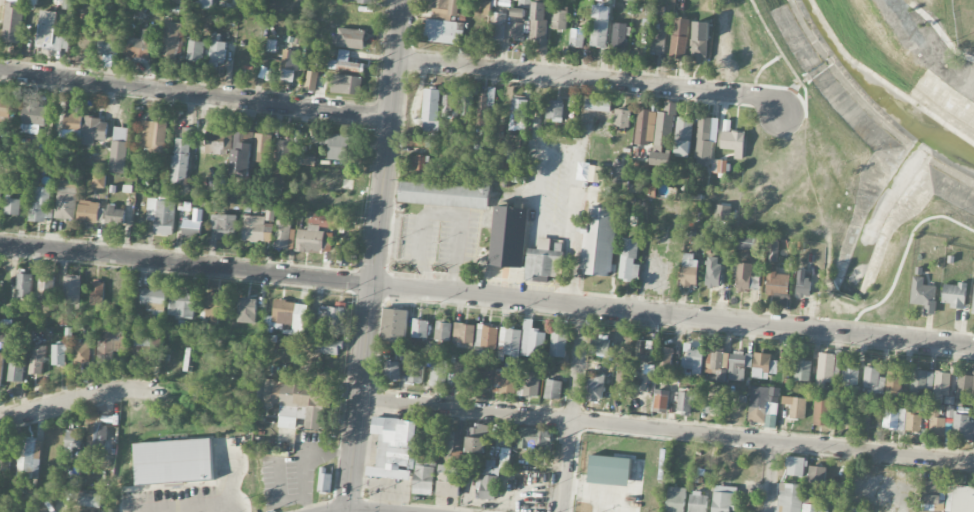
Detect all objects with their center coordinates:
building: (175, 1)
building: (365, 1)
building: (520, 3)
building: (68, 4)
building: (204, 4)
building: (445, 9)
building: (559, 19)
building: (13, 22)
building: (517, 23)
building: (539, 24)
building: (599, 27)
building: (81, 31)
building: (444, 31)
road: (941, 32)
building: (50, 33)
building: (619, 35)
building: (576, 37)
building: (350, 38)
building: (679, 38)
building: (172, 39)
building: (700, 42)
building: (657, 44)
building: (107, 45)
building: (271, 45)
building: (139, 46)
building: (196, 50)
building: (218, 50)
road: (780, 51)
building: (312, 60)
building: (345, 62)
building: (290, 67)
road: (593, 78)
building: (311, 80)
building: (346, 84)
road: (195, 94)
building: (598, 105)
building: (450, 106)
building: (466, 107)
building: (486, 107)
building: (6, 108)
building: (431, 109)
building: (555, 110)
building: (518, 114)
building: (33, 116)
building: (621, 118)
building: (72, 125)
building: (645, 127)
building: (663, 129)
building: (94, 130)
building: (153, 135)
park: (858, 136)
building: (683, 137)
building: (216, 140)
building: (705, 141)
building: (733, 142)
building: (260, 146)
building: (337, 146)
building: (119, 149)
road: (548, 150)
building: (283, 153)
building: (182, 155)
building: (240, 157)
building: (304, 159)
building: (1, 162)
building: (419, 163)
building: (719, 166)
building: (509, 168)
building: (594, 173)
building: (615, 174)
building: (98, 180)
building: (338, 181)
building: (634, 189)
building: (652, 189)
building: (445, 194)
building: (0, 196)
building: (231, 197)
building: (66, 200)
building: (40, 204)
building: (13, 206)
building: (90, 211)
building: (722, 212)
road: (441, 213)
building: (115, 215)
building: (162, 215)
road: (823, 219)
building: (193, 224)
building: (224, 226)
building: (256, 229)
building: (317, 233)
building: (283, 234)
building: (508, 236)
building: (599, 242)
building: (747, 244)
building: (344, 251)
road: (376, 256)
building: (543, 260)
building: (629, 260)
road: (905, 260)
road: (568, 267)
building: (688, 269)
building: (713, 271)
building: (746, 277)
building: (776, 282)
building: (803, 283)
building: (24, 285)
building: (71, 288)
building: (46, 289)
building: (96, 293)
building: (923, 295)
building: (954, 295)
road: (486, 296)
building: (153, 298)
building: (182, 304)
building: (215, 305)
building: (973, 308)
building: (247, 310)
building: (289, 316)
building: (62, 317)
building: (326, 319)
building: (394, 324)
building: (420, 328)
building: (443, 331)
building: (464, 332)
building: (486, 336)
building: (533, 340)
building: (111, 345)
building: (322, 345)
building: (510, 345)
building: (558, 345)
building: (600, 345)
building: (645, 347)
building: (146, 348)
building: (82, 352)
building: (59, 355)
building: (38, 359)
building: (665, 359)
building: (692, 361)
building: (716, 365)
building: (739, 365)
building: (763, 365)
building: (1, 368)
building: (16, 368)
building: (825, 369)
building: (392, 370)
building: (802, 370)
building: (439, 372)
building: (415, 373)
building: (624, 373)
building: (850, 374)
building: (460, 376)
building: (485, 379)
building: (873, 380)
building: (921, 380)
building: (506, 381)
building: (894, 381)
building: (531, 384)
building: (941, 386)
building: (965, 387)
building: (594, 388)
building: (553, 389)
building: (686, 398)
road: (83, 399)
building: (661, 399)
building: (761, 401)
building: (302, 403)
building: (713, 406)
building: (795, 406)
road: (572, 408)
building: (821, 412)
building: (771, 415)
building: (846, 415)
building: (894, 419)
building: (914, 422)
building: (936, 422)
building: (865, 424)
building: (962, 427)
road: (666, 430)
building: (94, 436)
building: (534, 437)
building: (74, 439)
building: (477, 439)
building: (395, 448)
building: (173, 462)
building: (28, 463)
building: (795, 466)
building: (609, 470)
building: (424, 473)
building: (817, 474)
building: (493, 476)
road: (774, 477)
building: (324, 481)
building: (448, 481)
building: (934, 494)
building: (790, 497)
building: (676, 499)
building: (724, 499)
building: (960, 499)
building: (91, 500)
building: (698, 502)
building: (812, 504)
road: (187, 505)
building: (857, 510)

